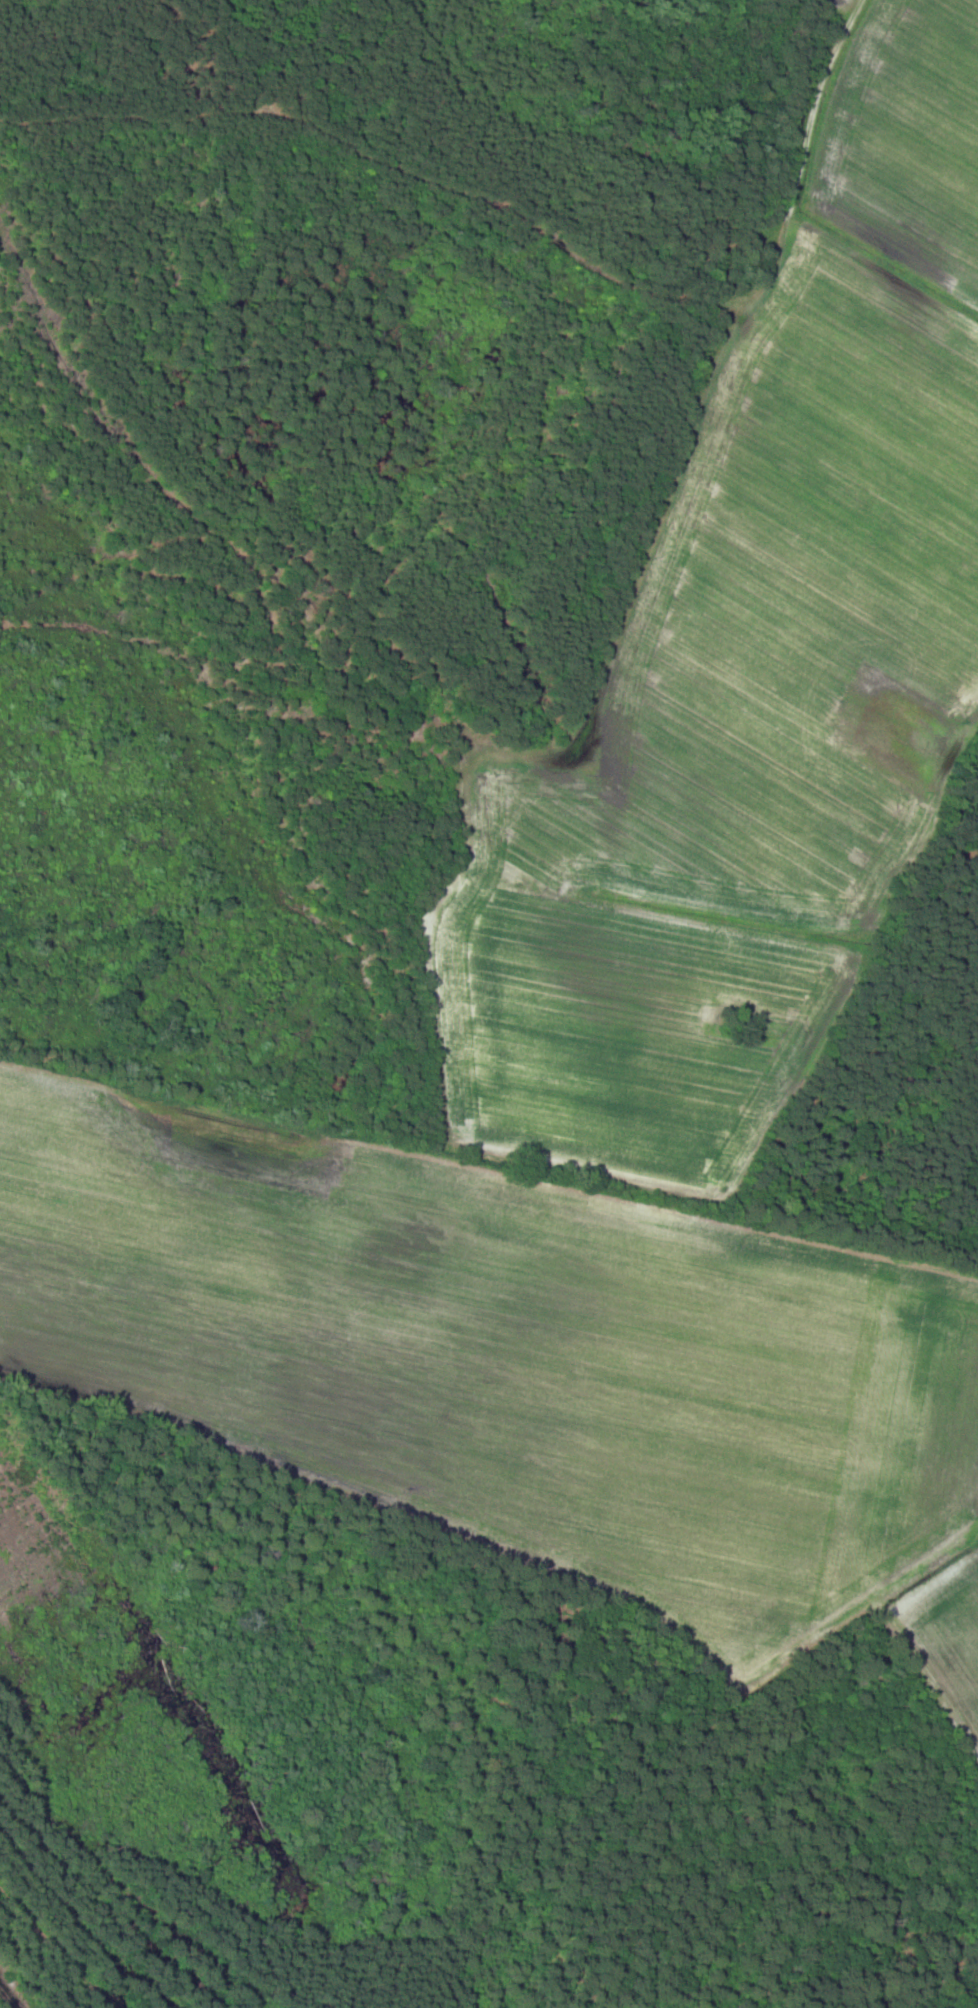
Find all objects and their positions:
road: (791, 448)

